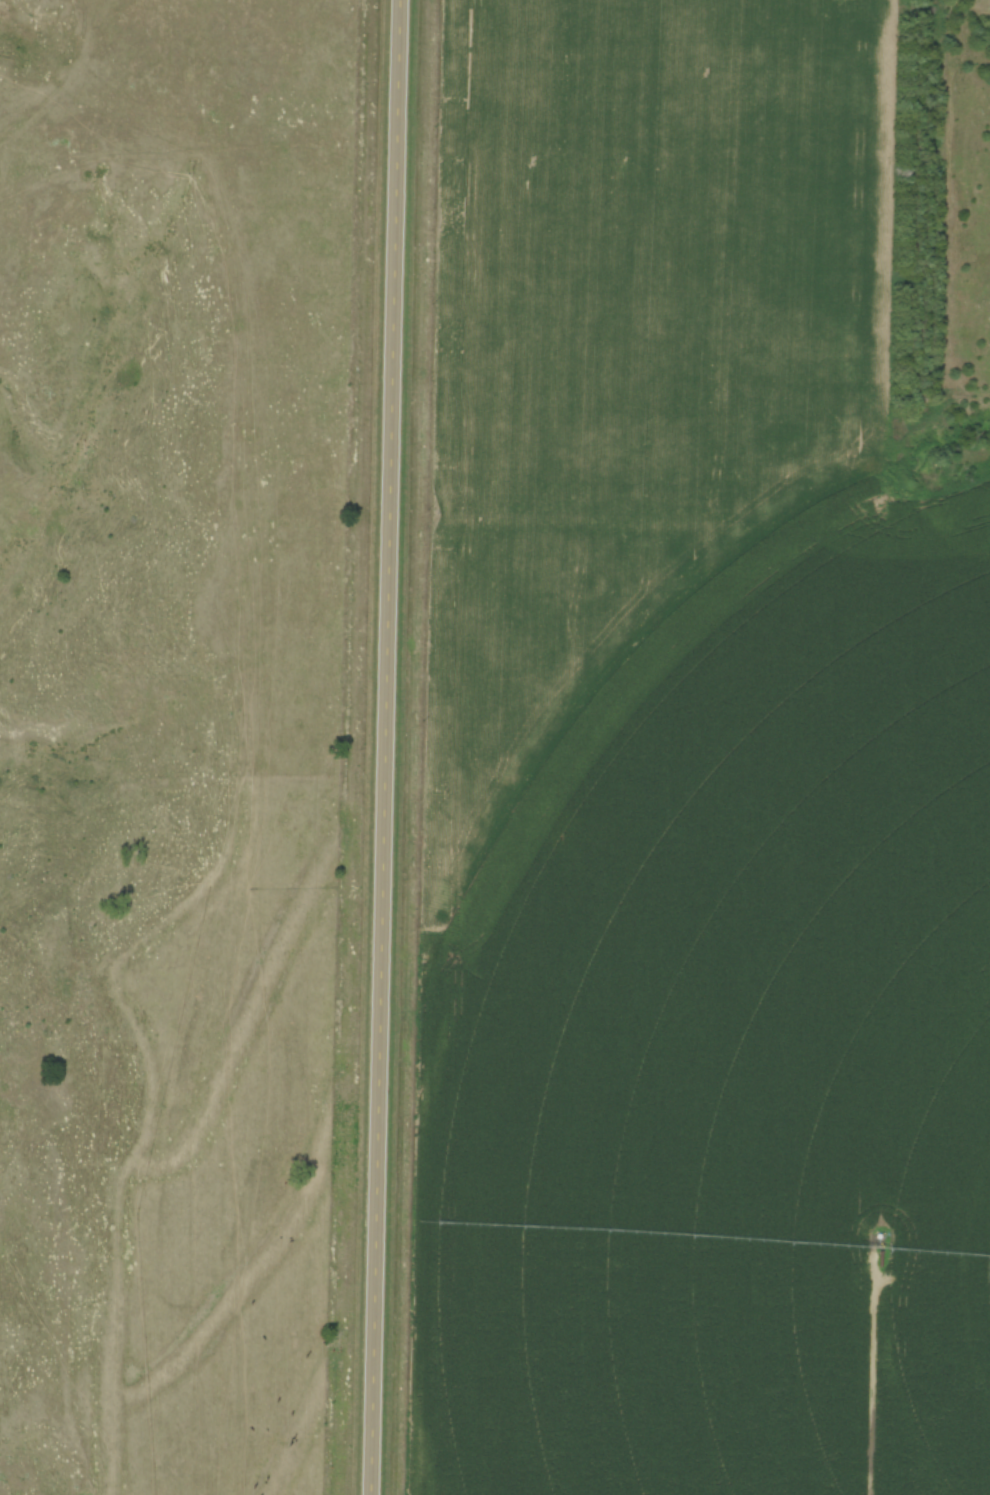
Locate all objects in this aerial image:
crop: (635, 341)
road: (390, 747)
crop: (735, 1045)

